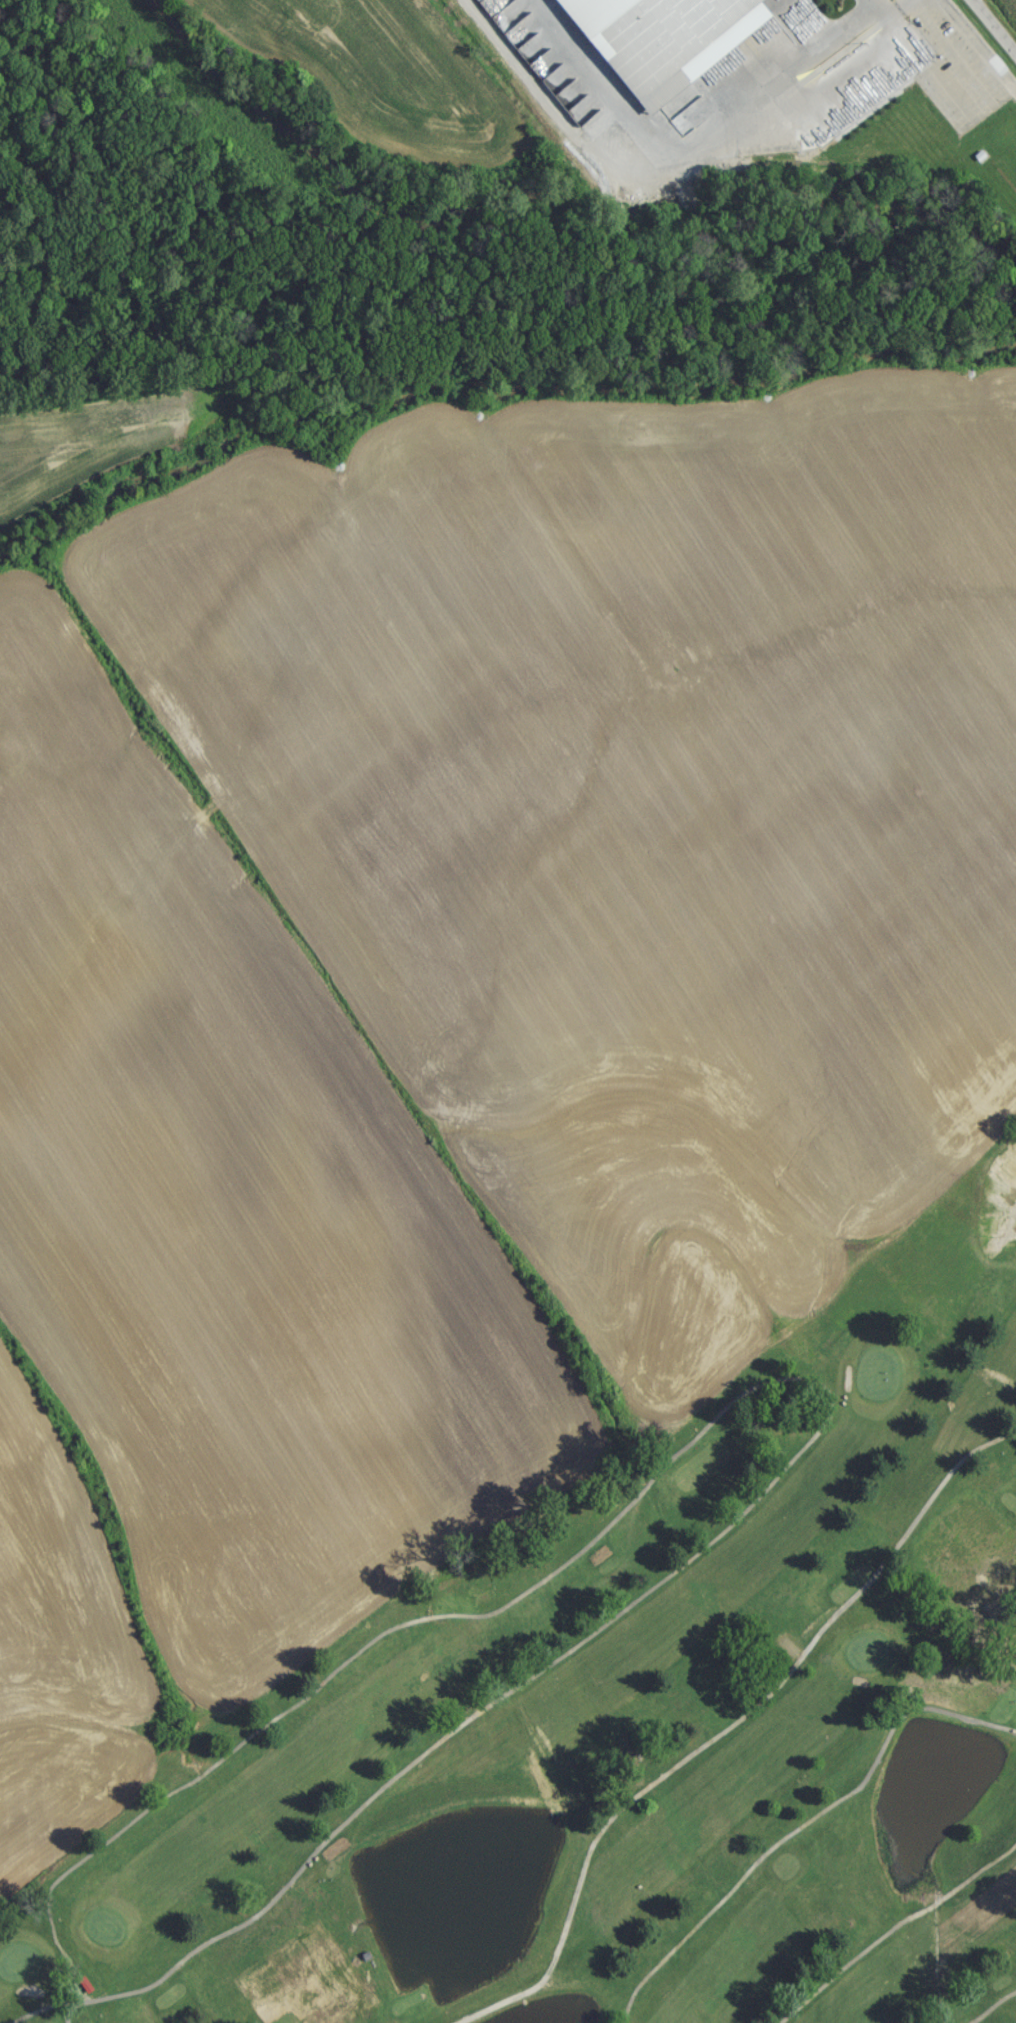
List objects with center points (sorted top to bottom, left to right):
road: (872, 2)
road: (891, 5)
road: (990, 31)
road: (975, 80)
road: (692, 143)
road: (785, 1385)
building: (923, 1606)
park: (631, 1696)
road: (732, 1730)
road: (994, 1731)
road: (781, 1846)
road: (896, 1930)
building: (363, 1961)
building: (370, 1968)
building: (372, 1971)
building: (83, 1988)
road: (997, 2008)
road: (53, 2011)
road: (72, 2012)

